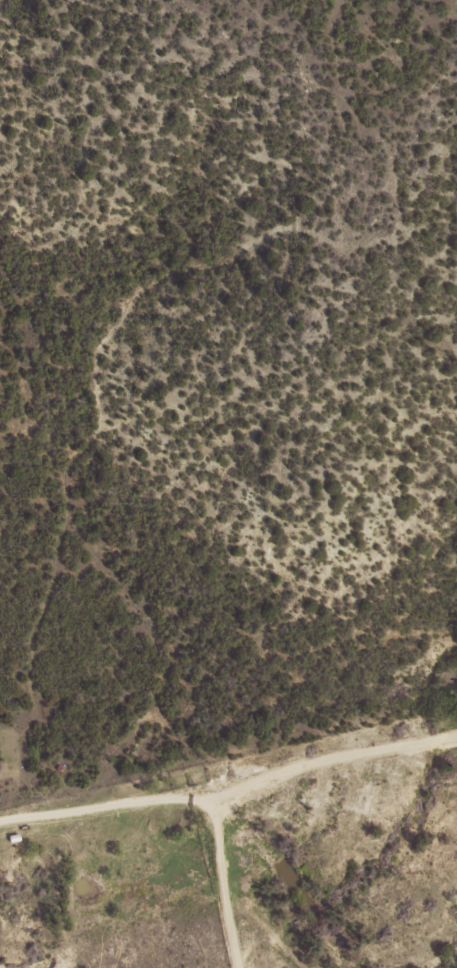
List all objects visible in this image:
road: (187, 797)

